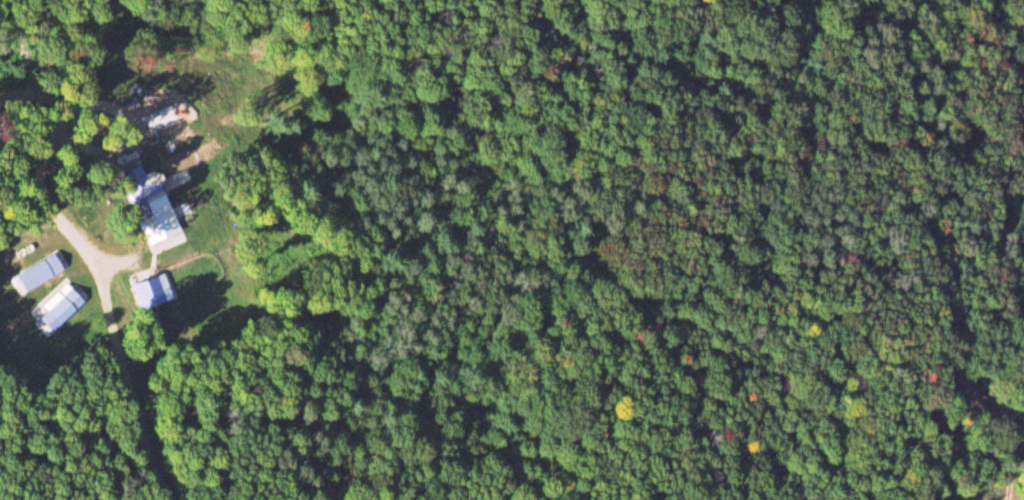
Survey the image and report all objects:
road: (958, 121)
building: (147, 202)
building: (148, 291)
building: (61, 309)
road: (137, 431)

